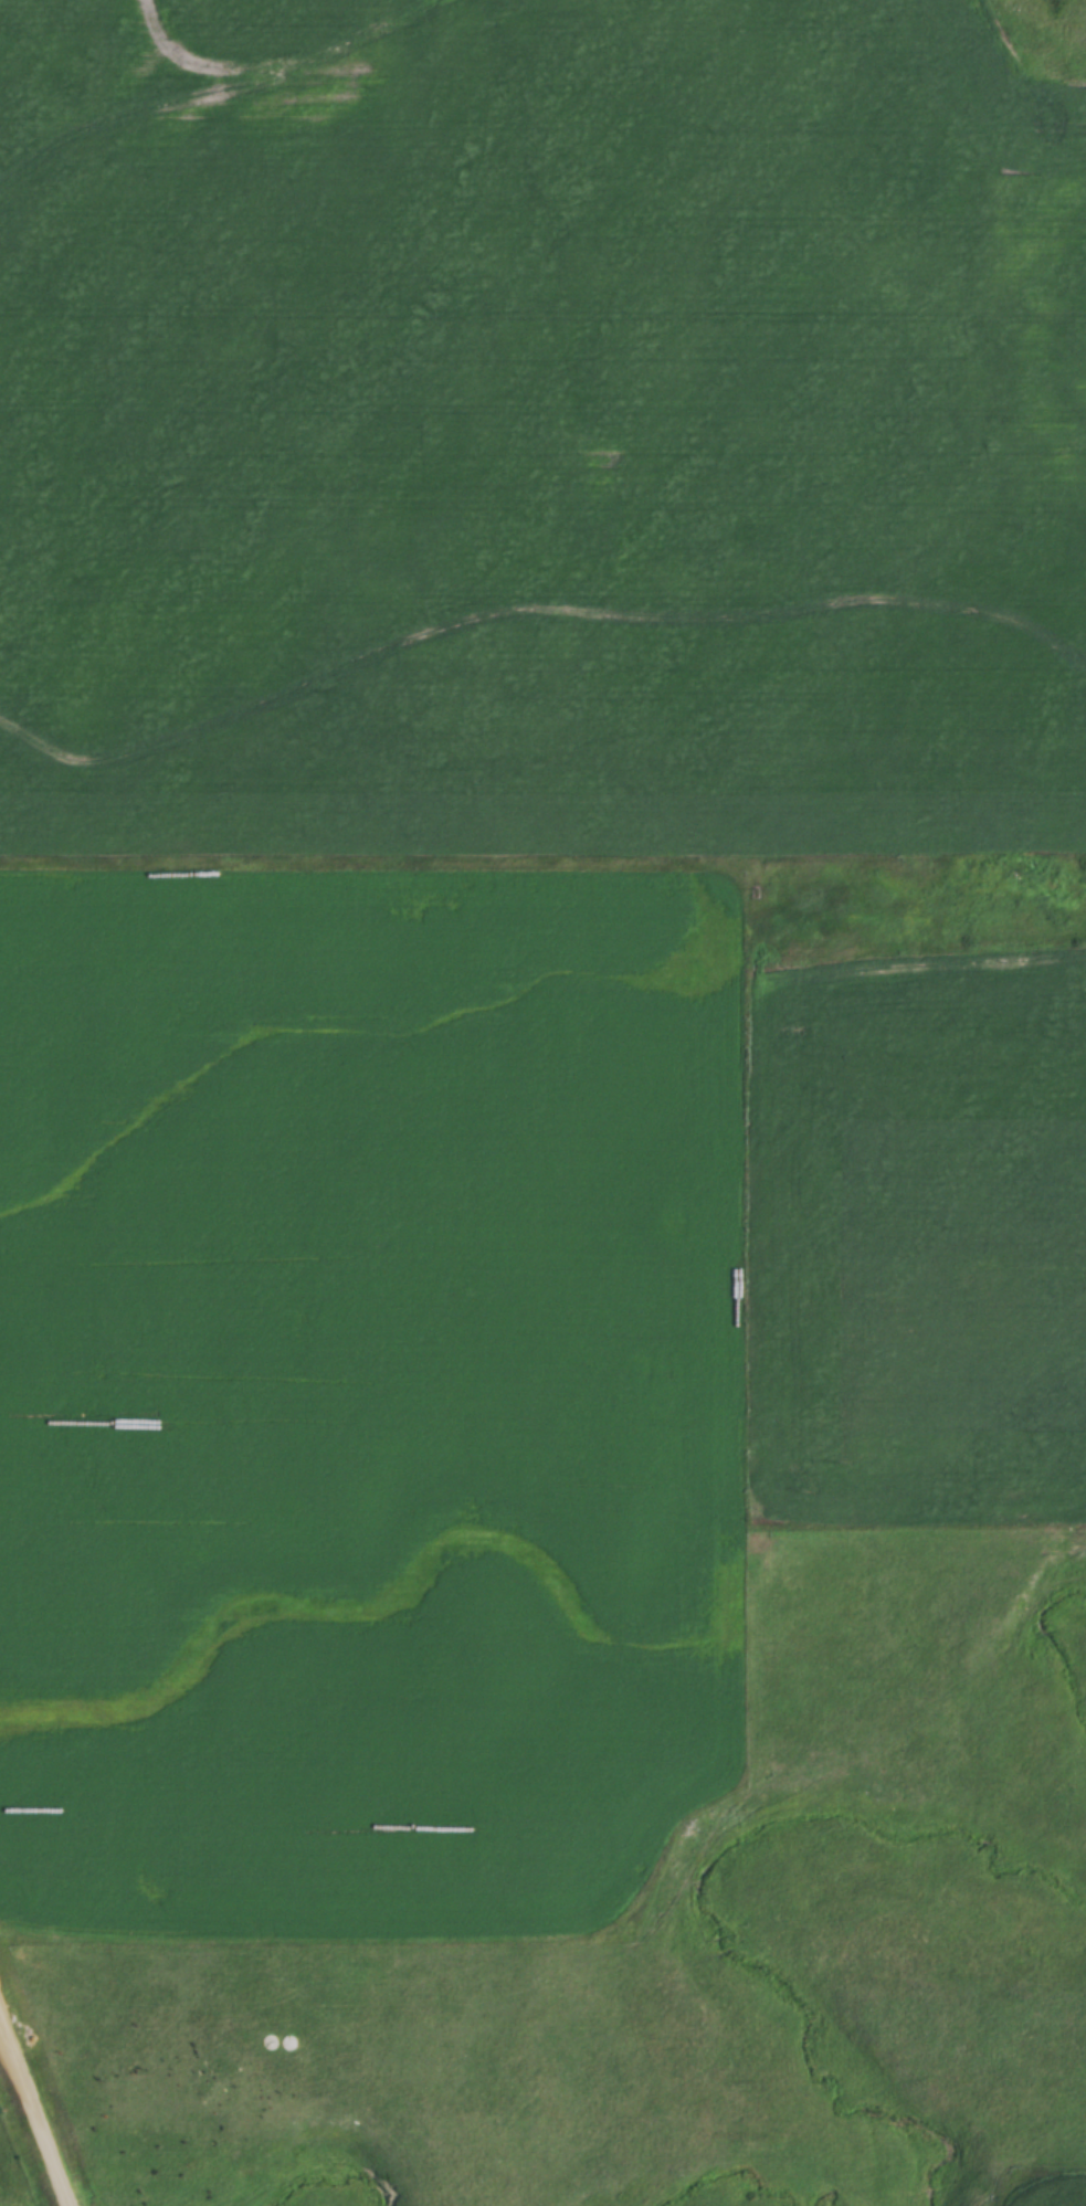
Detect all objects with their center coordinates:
road: (32, 2113)

